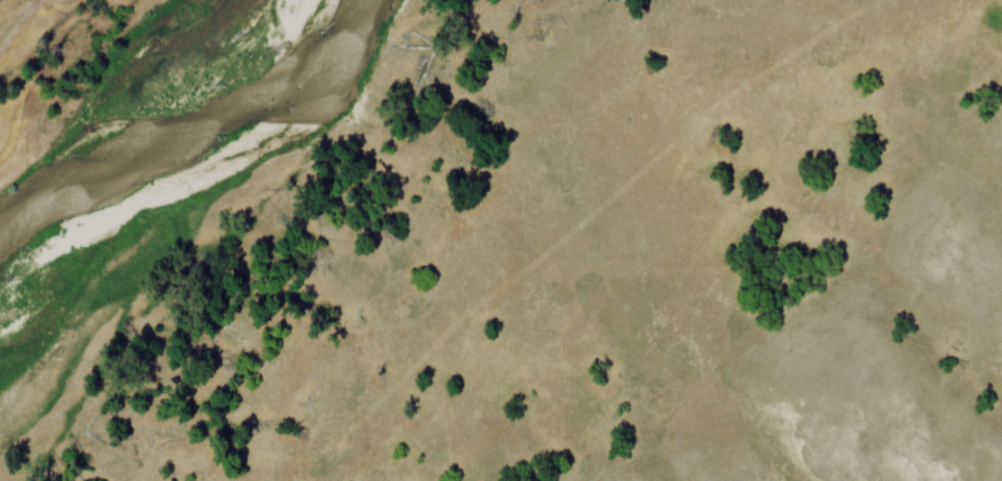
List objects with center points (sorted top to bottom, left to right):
river: (187, 133)

